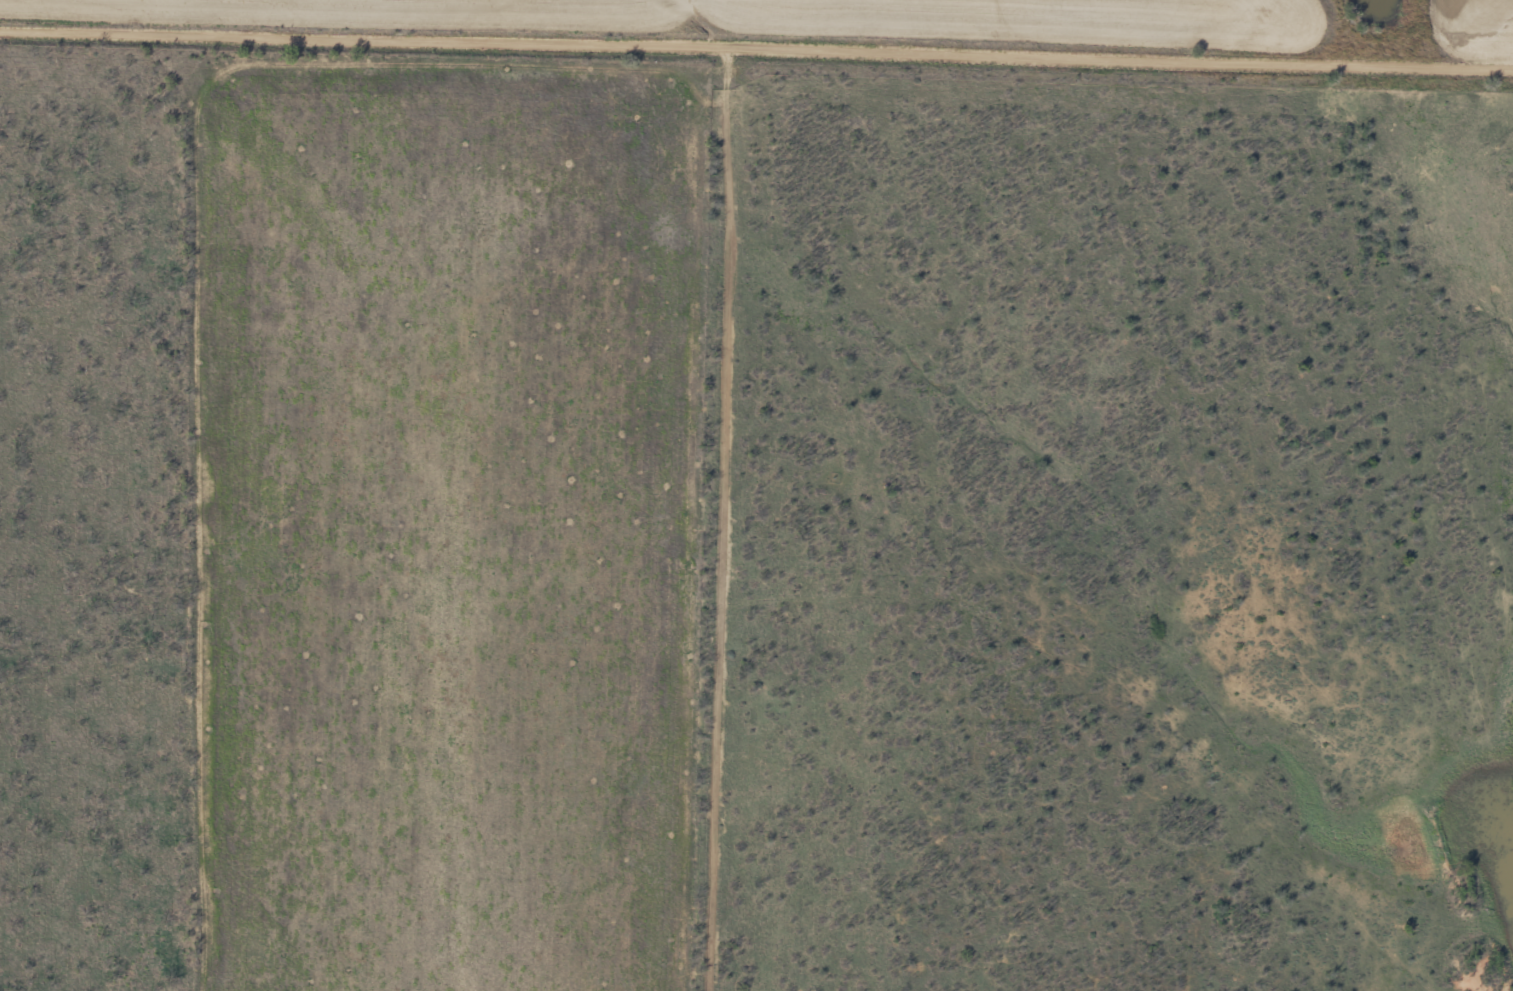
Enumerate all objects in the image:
road: (756, 46)
road: (703, 517)

